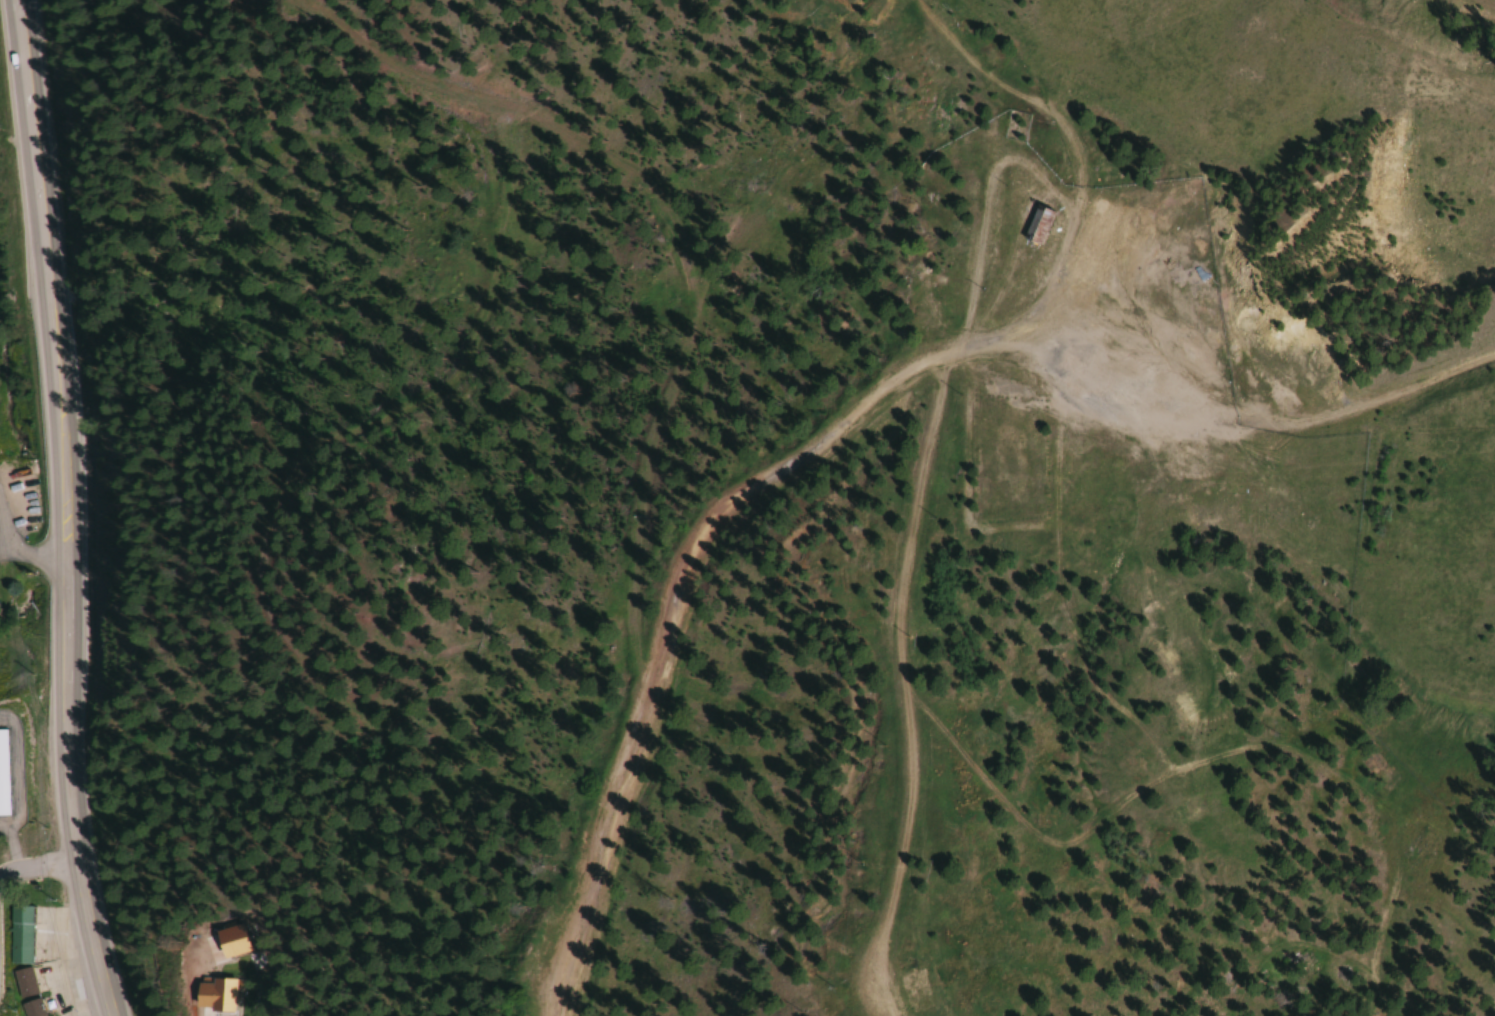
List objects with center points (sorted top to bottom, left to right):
building: (1036, 224)
building: (1092, 228)
road: (57, 286)
road: (23, 550)
building: (2, 774)
road: (80, 796)
road: (42, 868)
building: (20, 935)
building: (26, 992)
building: (210, 995)

